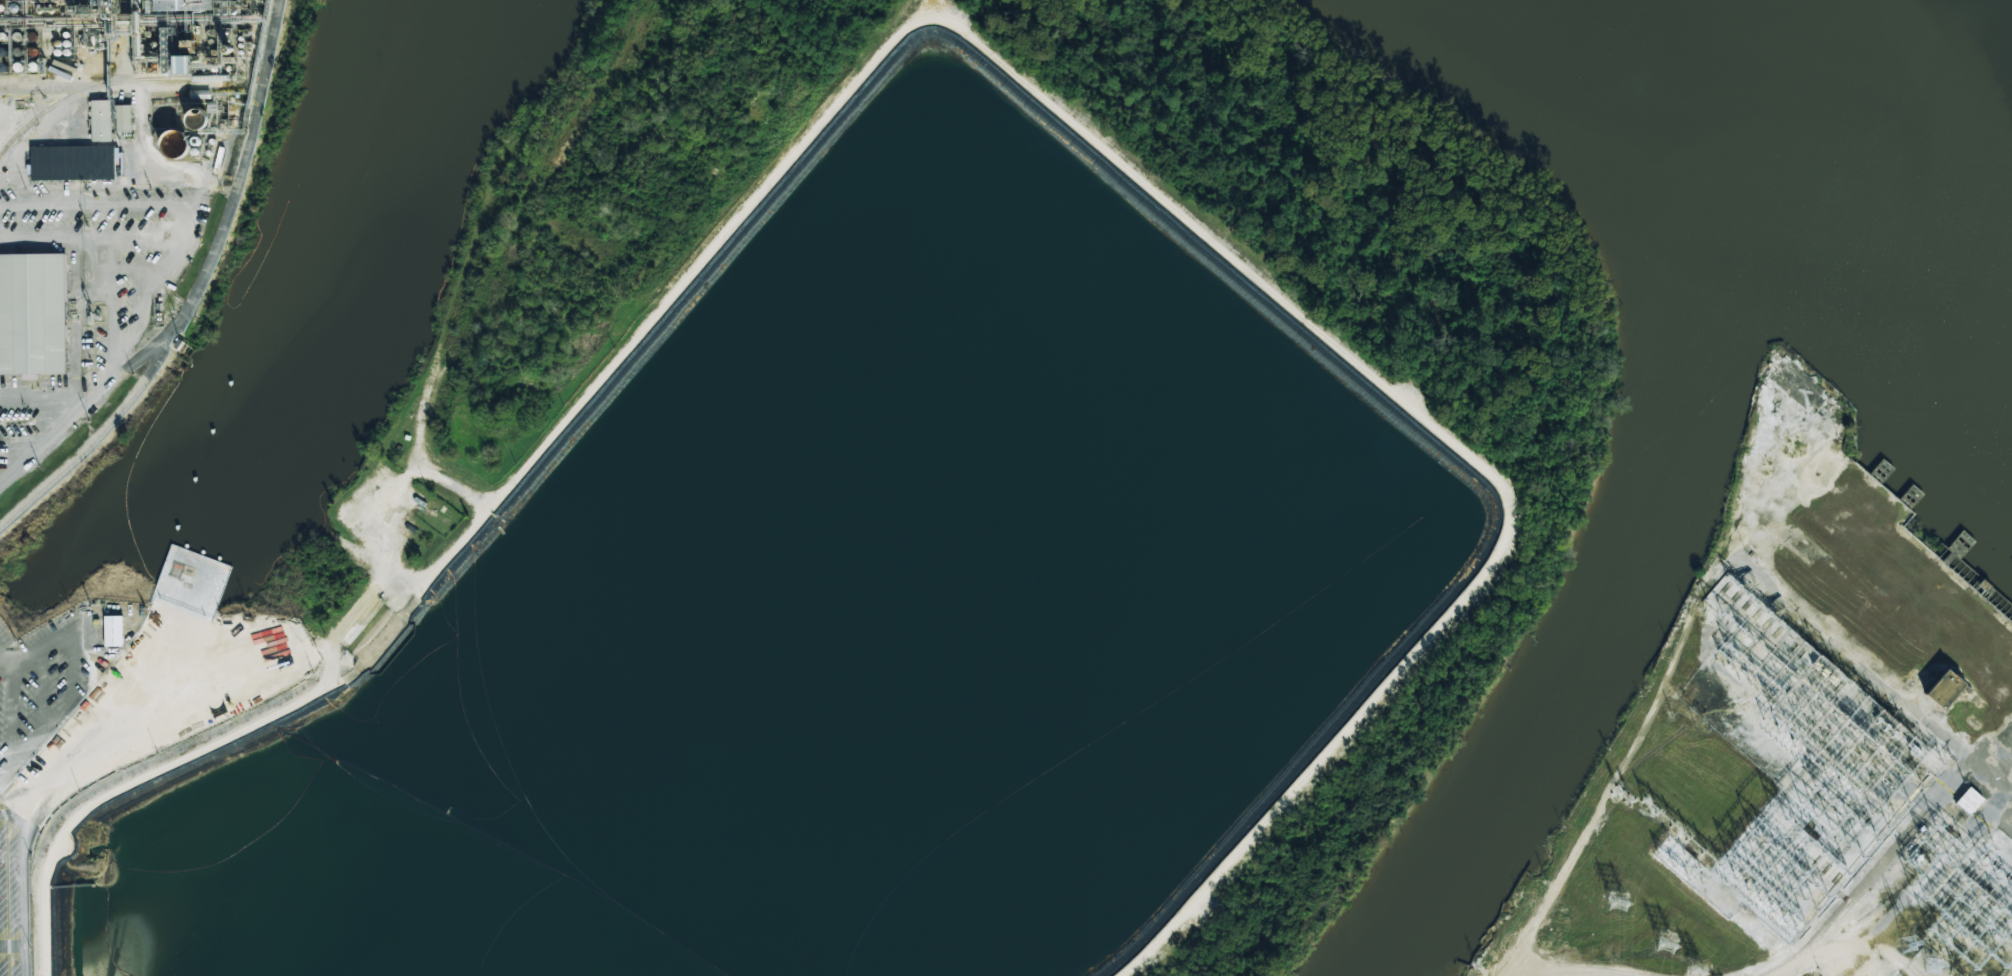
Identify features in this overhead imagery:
building: (193, 5)
building: (183, 65)
railway: (102, 84)
river: (1878, 111)
building: (124, 118)
building: (101, 121)
building: (174, 144)
building: (71, 159)
building: (131, 162)
building: (32, 314)
building: (191, 583)
building: (114, 630)
building: (99, 645)
building: (1945, 689)
power substation: (1810, 798)
building: (1969, 801)
power tower: (1938, 965)
road: (1783, 969)
road: (1572, 974)

